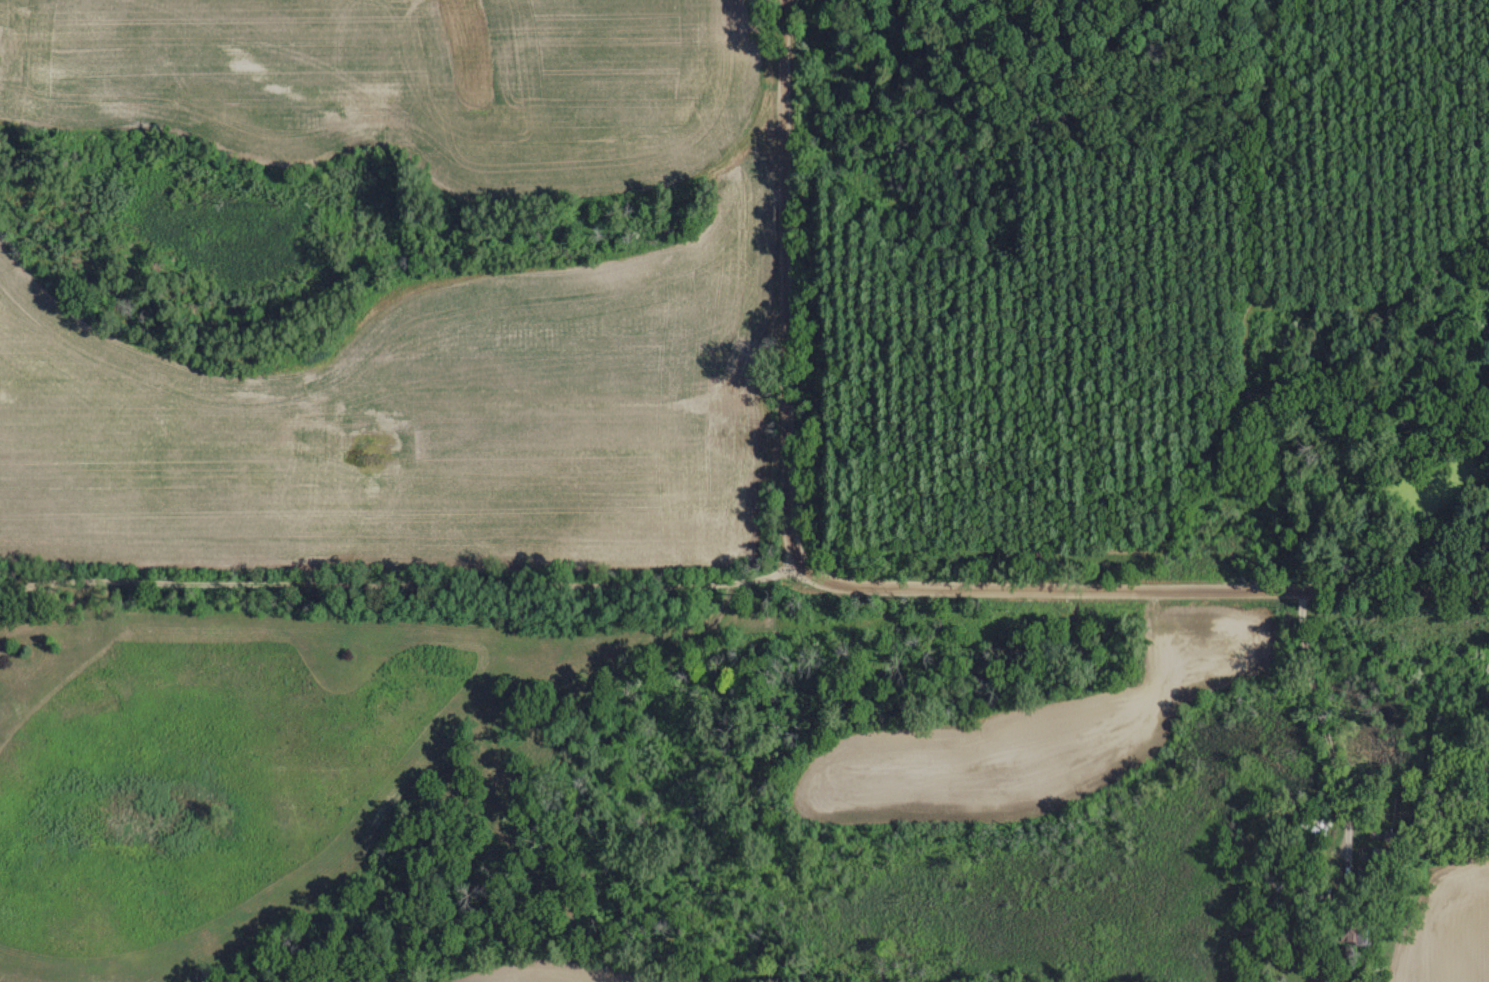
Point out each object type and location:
road: (786, 298)
road: (396, 560)
road: (21, 589)
road: (1158, 590)
building: (1378, 857)
building: (1274, 893)
building: (1351, 932)

